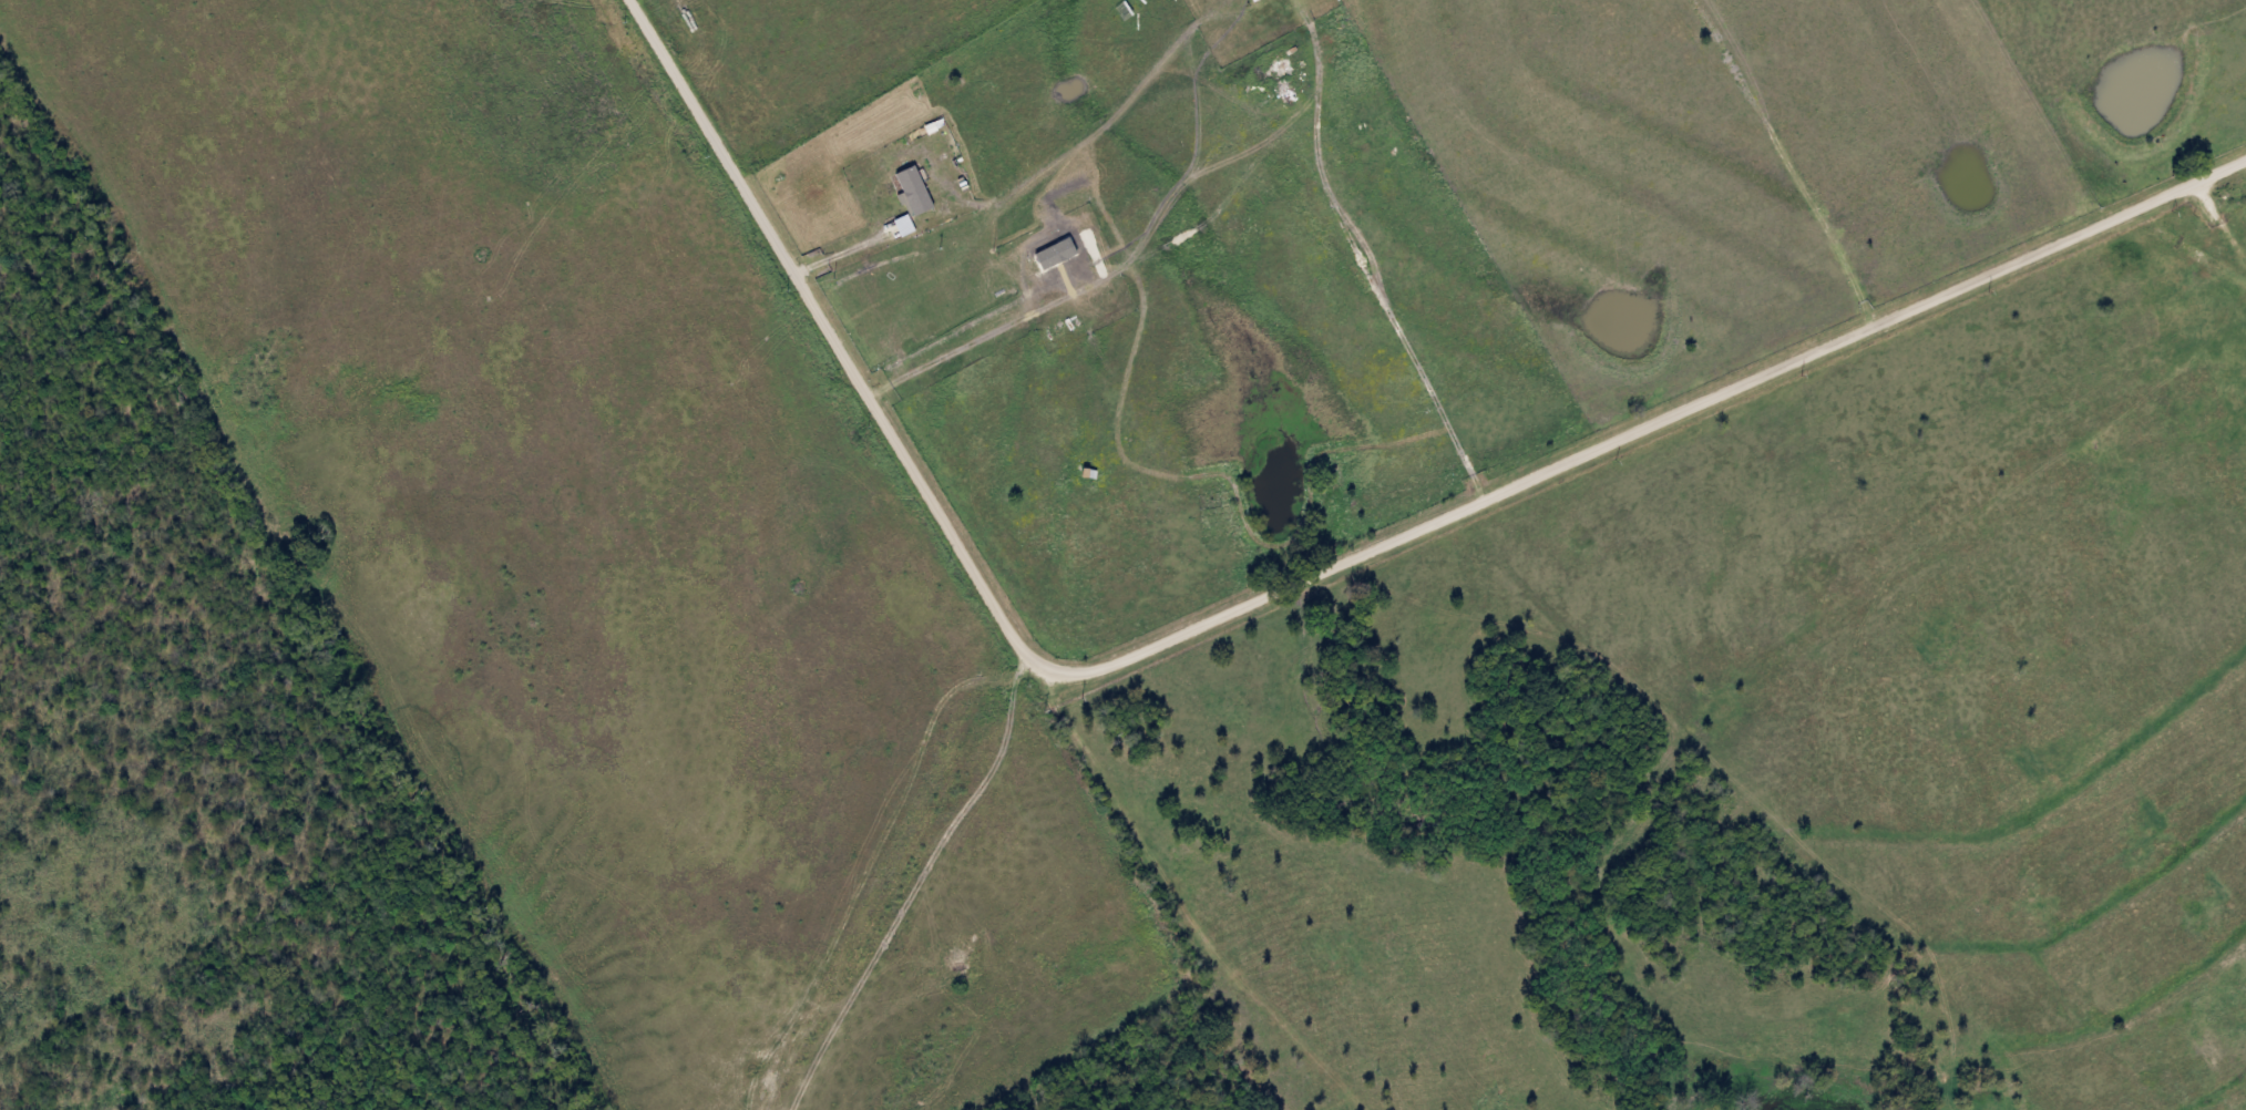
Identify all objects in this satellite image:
road: (1285, 586)

